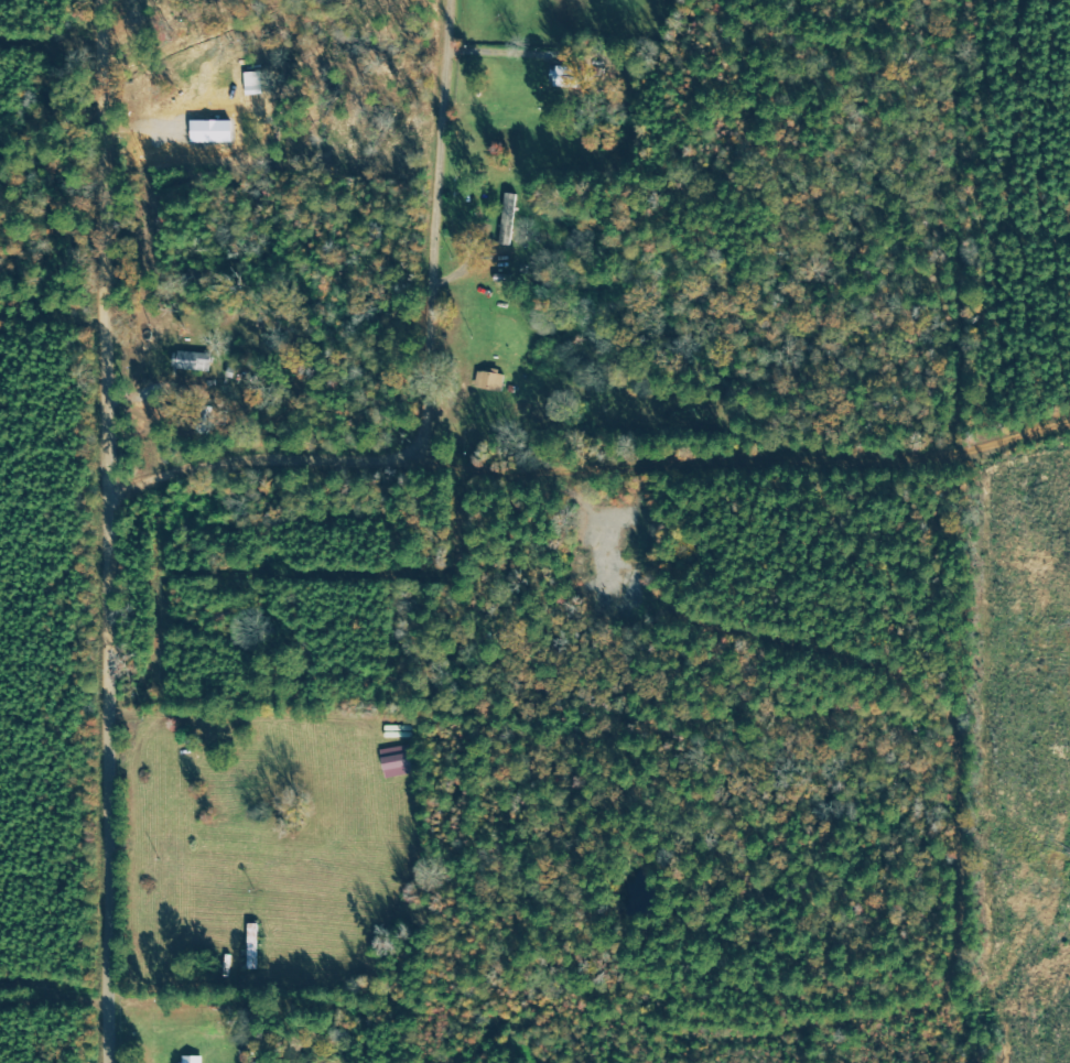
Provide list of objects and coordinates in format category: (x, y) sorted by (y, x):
road: (60, 8)
building: (507, 218)
road: (435, 219)
building: (190, 360)
building: (488, 381)
road: (269, 460)
road: (785, 482)
road: (120, 531)
road: (639, 551)
building: (190, 1060)

